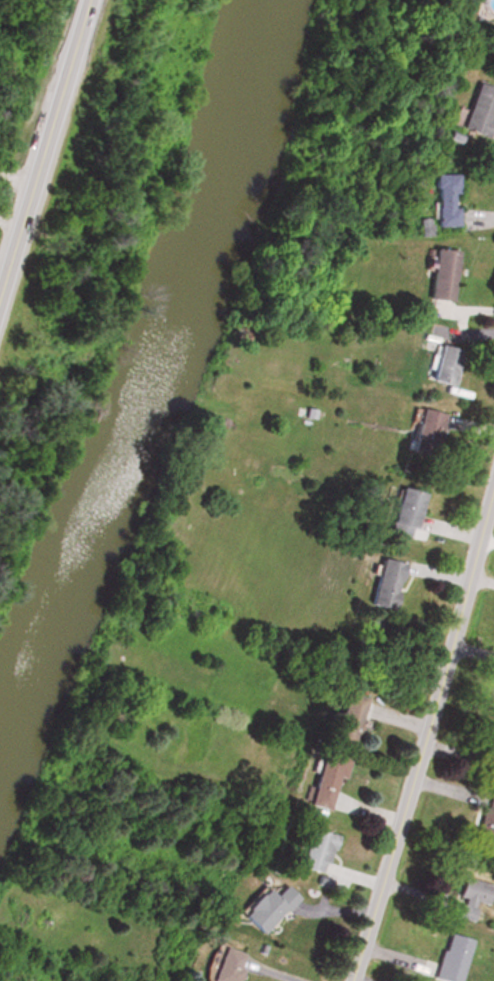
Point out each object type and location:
building: (479, 113)
road: (43, 141)
road: (15, 176)
building: (446, 202)
road: (9, 218)
building: (442, 276)
river: (132, 337)
building: (446, 367)
building: (427, 435)
building: (406, 515)
building: (386, 586)
building: (340, 719)
road: (423, 730)
building: (322, 779)
building: (484, 822)
building: (312, 849)
building: (469, 896)
building: (263, 904)
building: (449, 958)
building: (222, 965)

